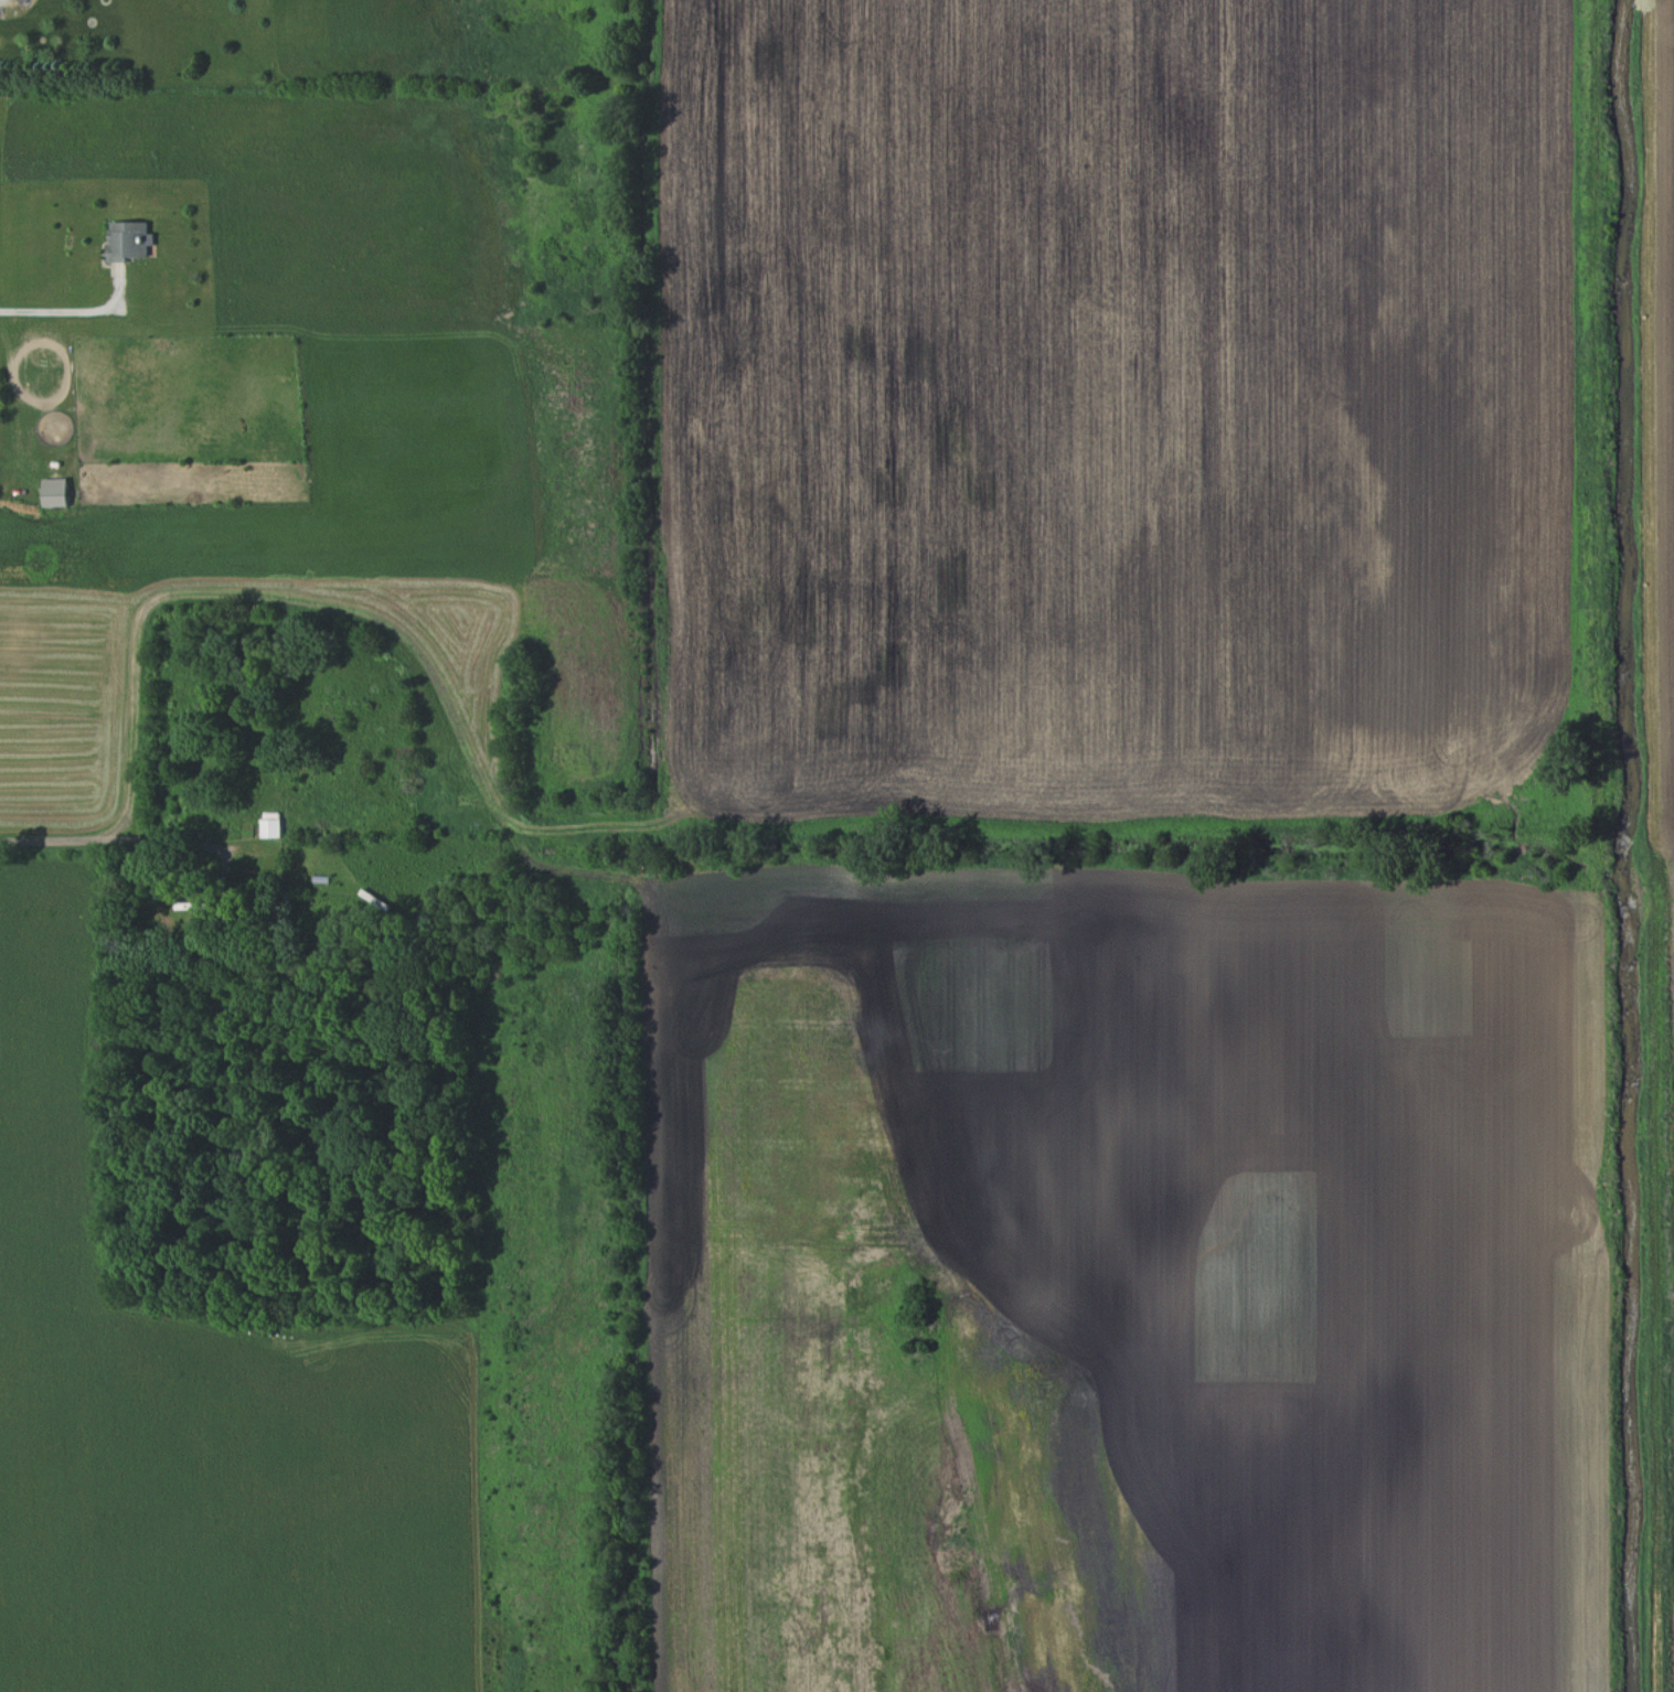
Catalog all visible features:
building: (128, 238)
road: (51, 309)
building: (55, 491)
building: (273, 824)
road: (58, 845)

